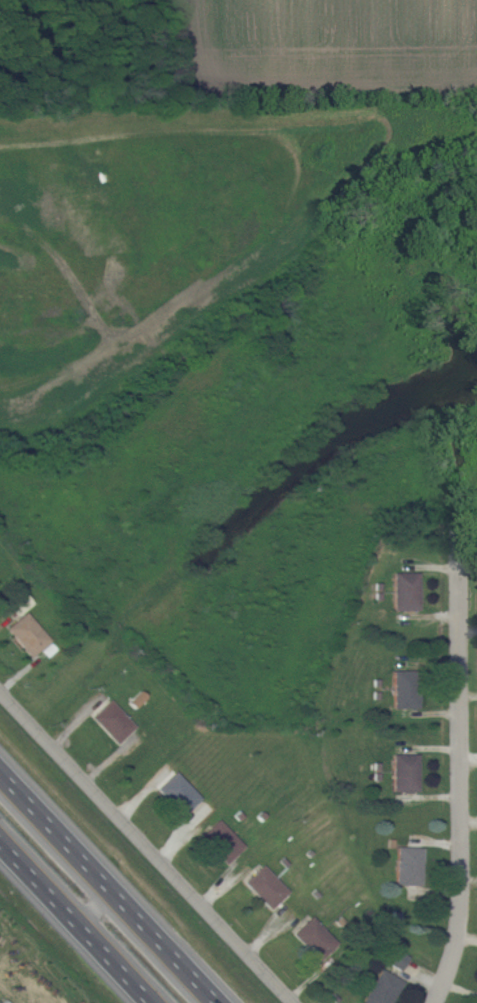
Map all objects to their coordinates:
building: (406, 590)
building: (28, 633)
building: (405, 688)
building: (113, 721)
road: (459, 767)
building: (405, 771)
building: (179, 792)
building: (222, 840)
road: (146, 847)
building: (409, 865)
road: (111, 885)
building: (265, 886)
road: (94, 906)
road: (74, 924)
building: (315, 937)
building: (396, 958)
building: (383, 988)

